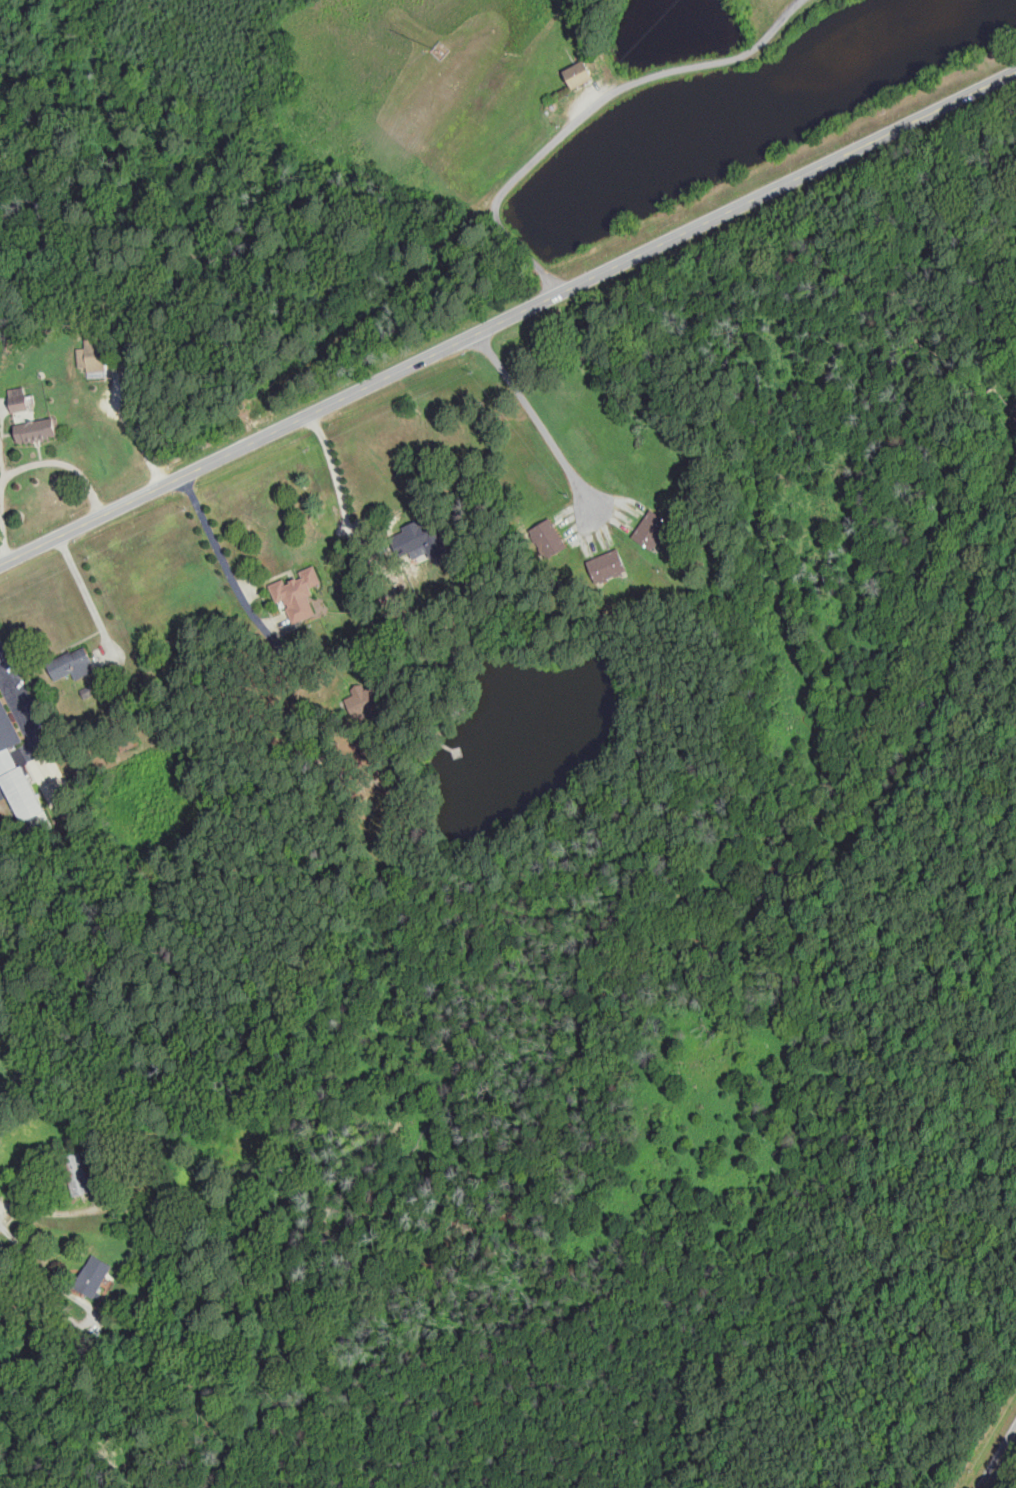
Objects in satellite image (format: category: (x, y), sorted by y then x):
road: (558, 71)
building: (579, 74)
road: (591, 107)
road: (508, 317)
building: (91, 357)
road: (531, 413)
building: (28, 419)
road: (135, 426)
road: (62, 462)
road: (338, 479)
road: (617, 520)
building: (652, 530)
road: (3, 531)
building: (417, 535)
building: (547, 538)
road: (212, 544)
building: (607, 566)
road: (81, 592)
building: (296, 595)
building: (72, 663)
road: (21, 717)
building: (7, 734)
building: (77, 1174)
building: (96, 1181)
road: (53, 1213)
building: (94, 1276)
road: (998, 1460)

